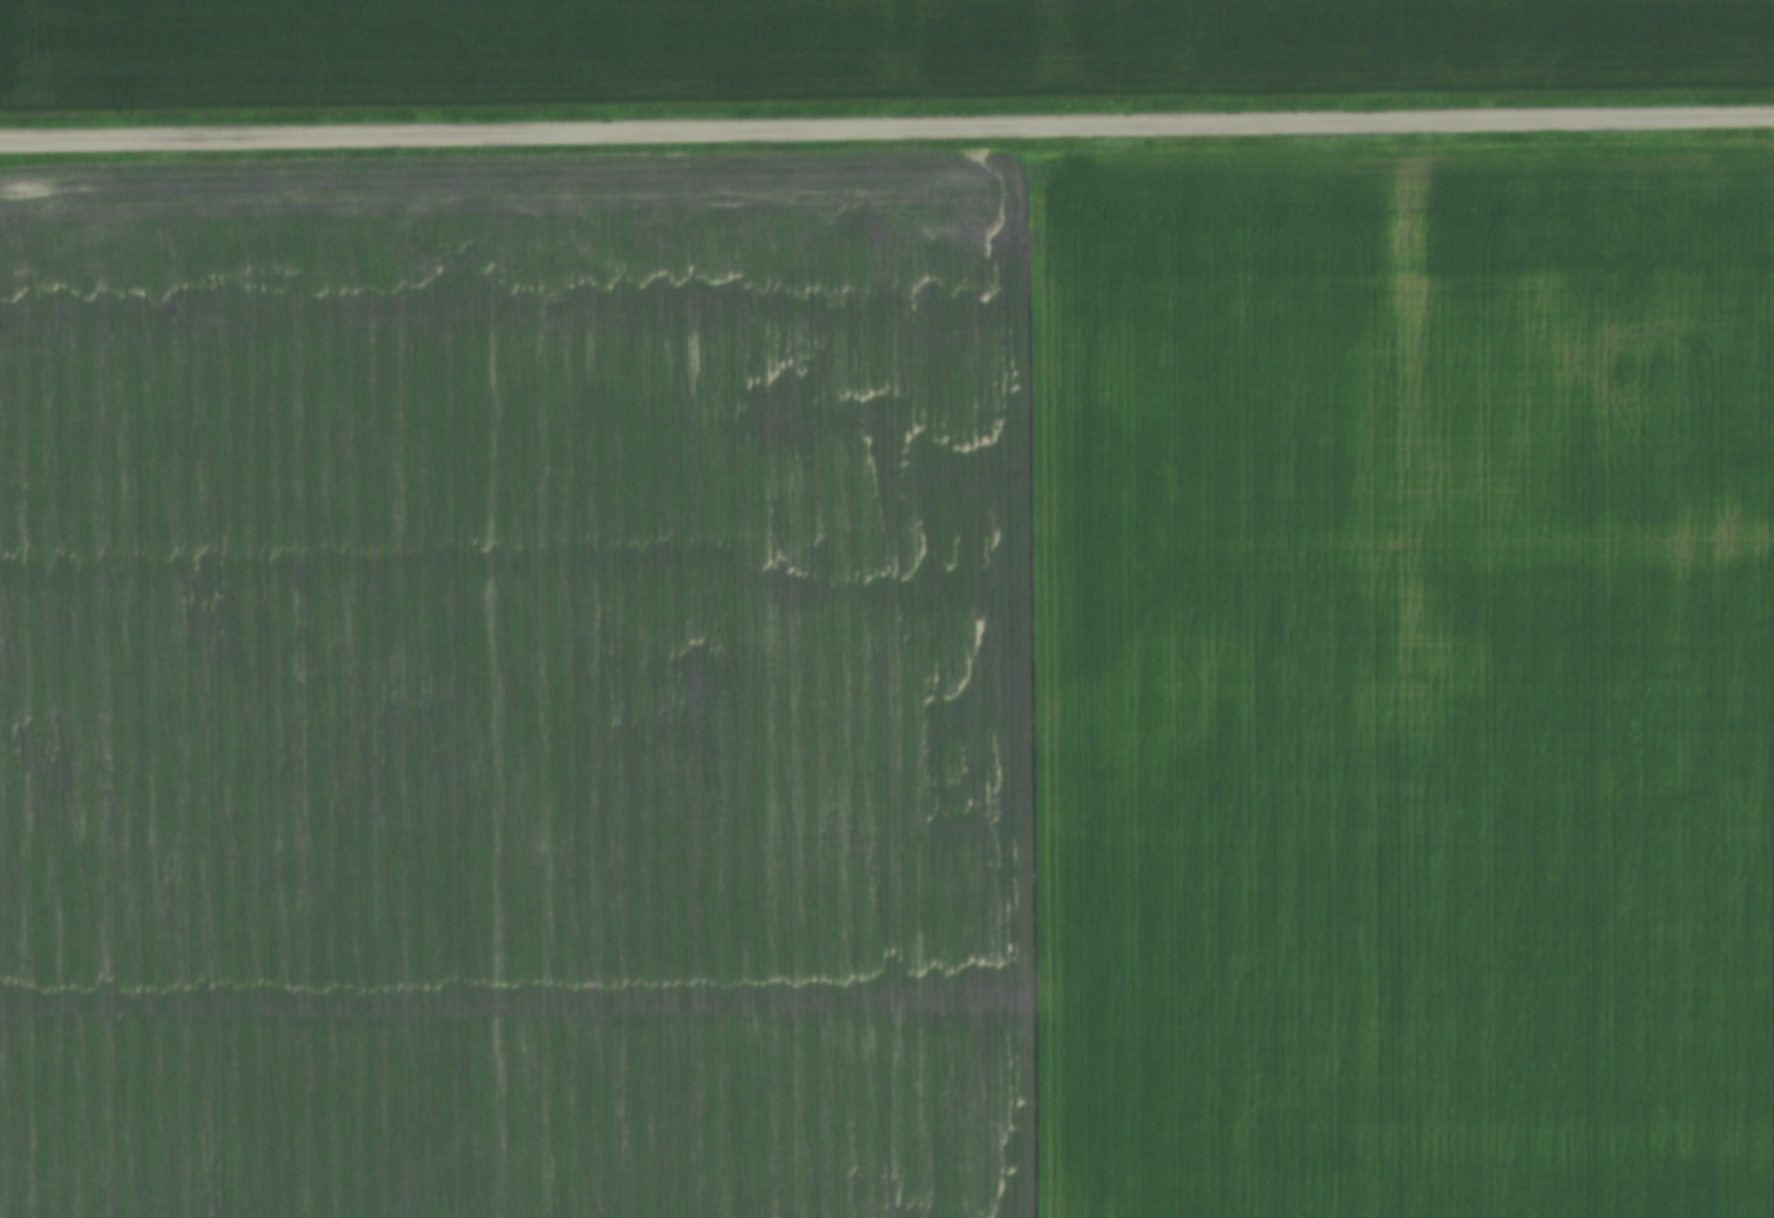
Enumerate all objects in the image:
road: (886, 126)

